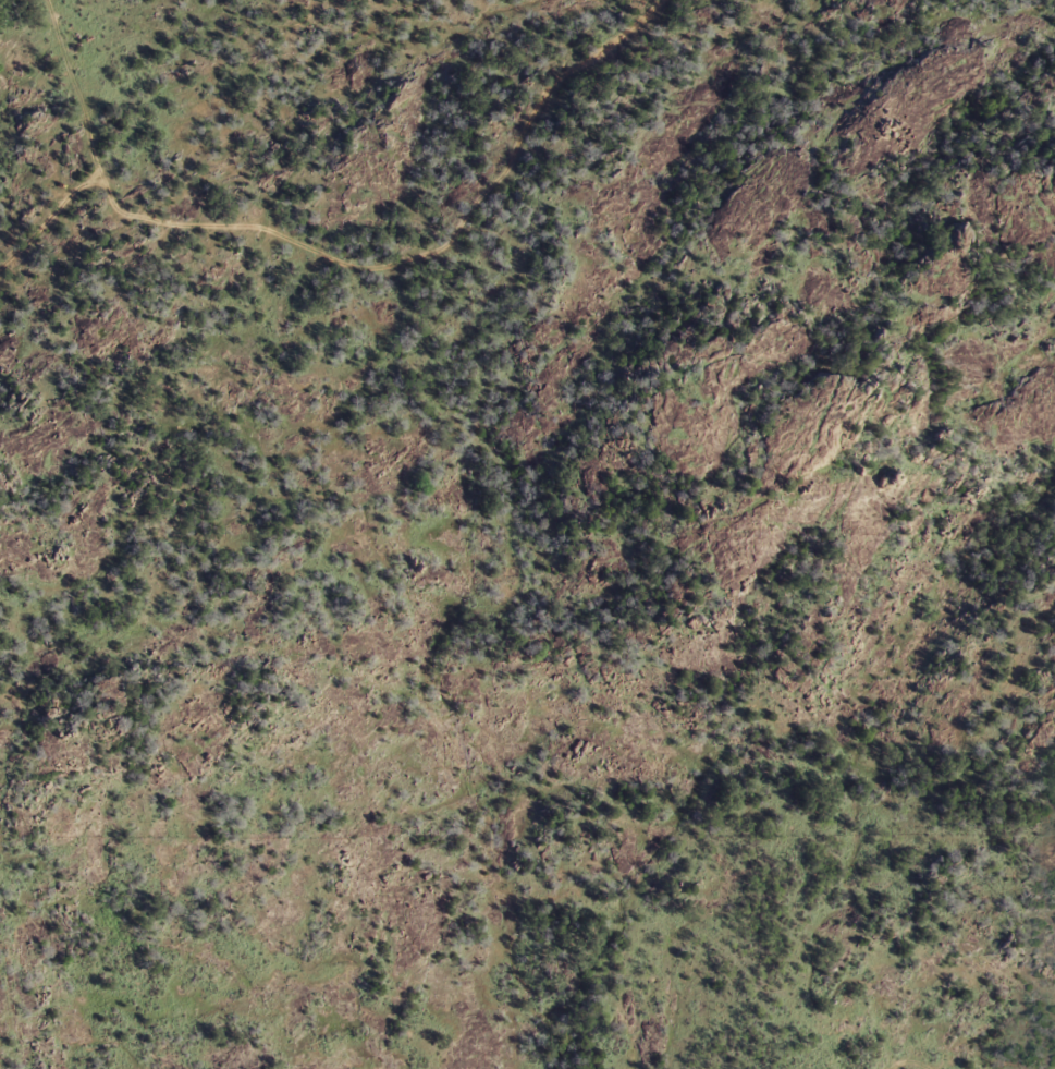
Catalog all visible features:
road: (335, 260)
road: (906, 1059)

